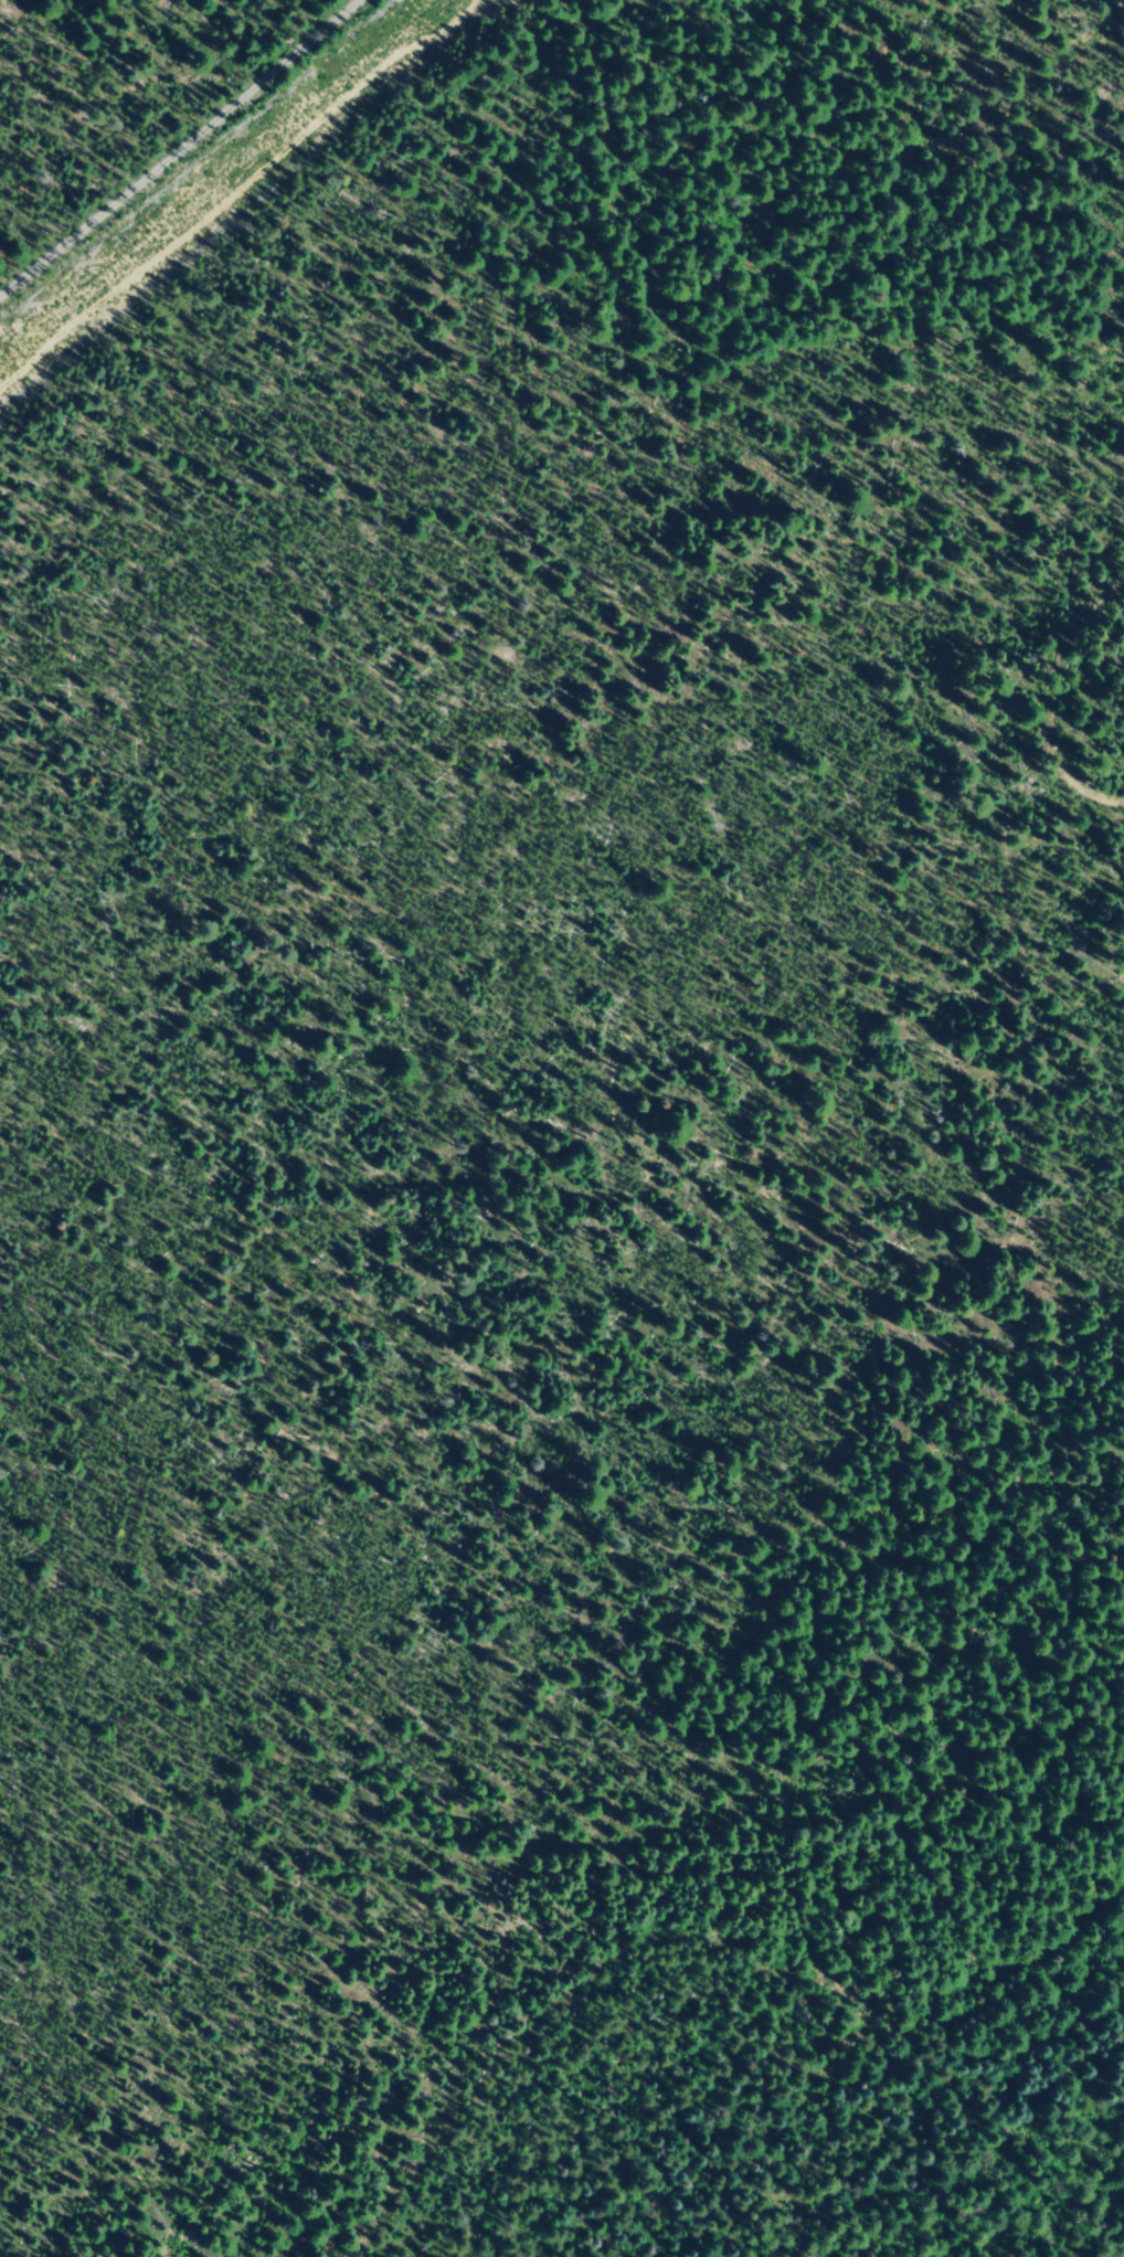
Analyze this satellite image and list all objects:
road: (183, 150)
road: (223, 187)

